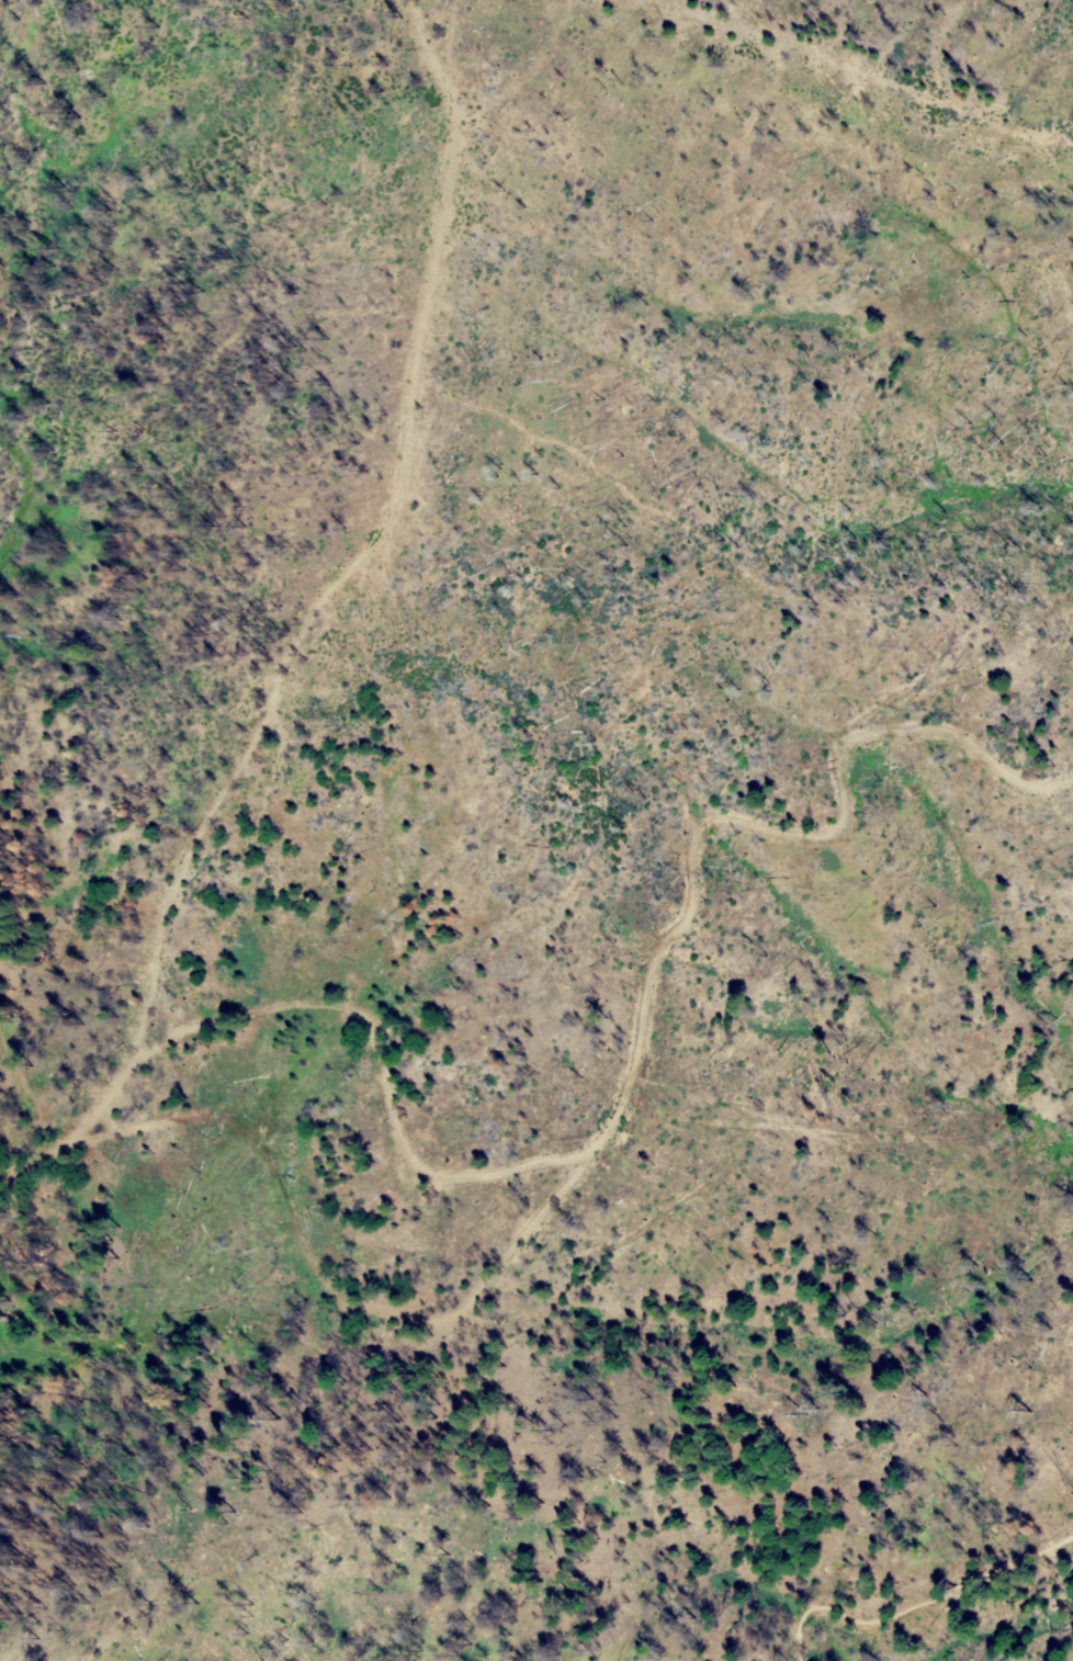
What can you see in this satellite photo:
road: (692, 828)
road: (538, 947)

